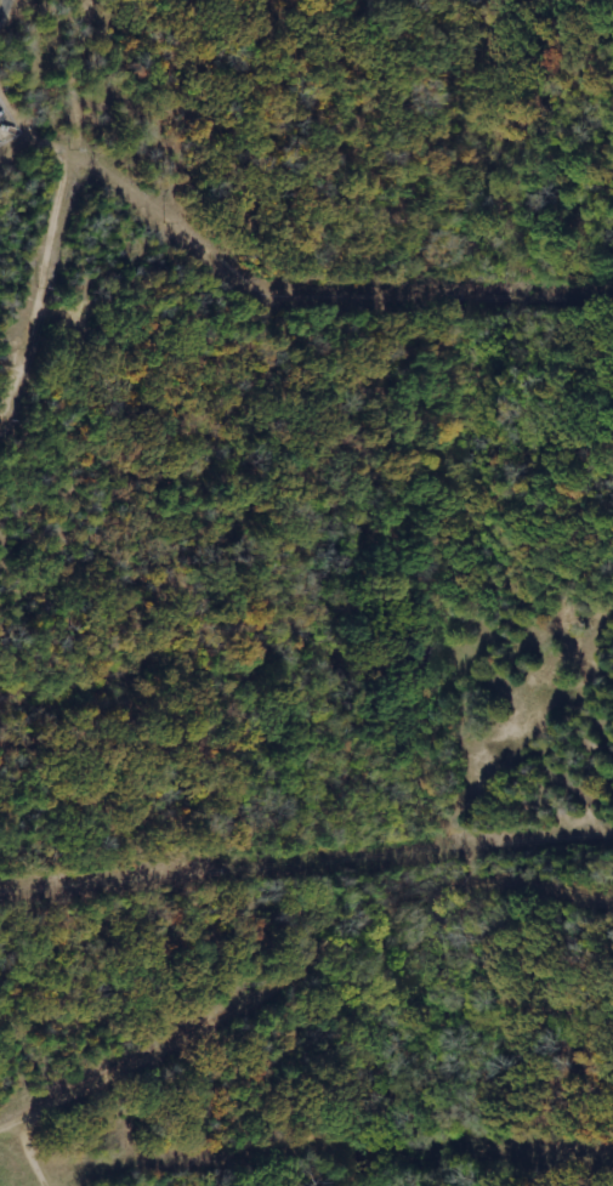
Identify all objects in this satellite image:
road: (5, 11)
park: (306, 329)

